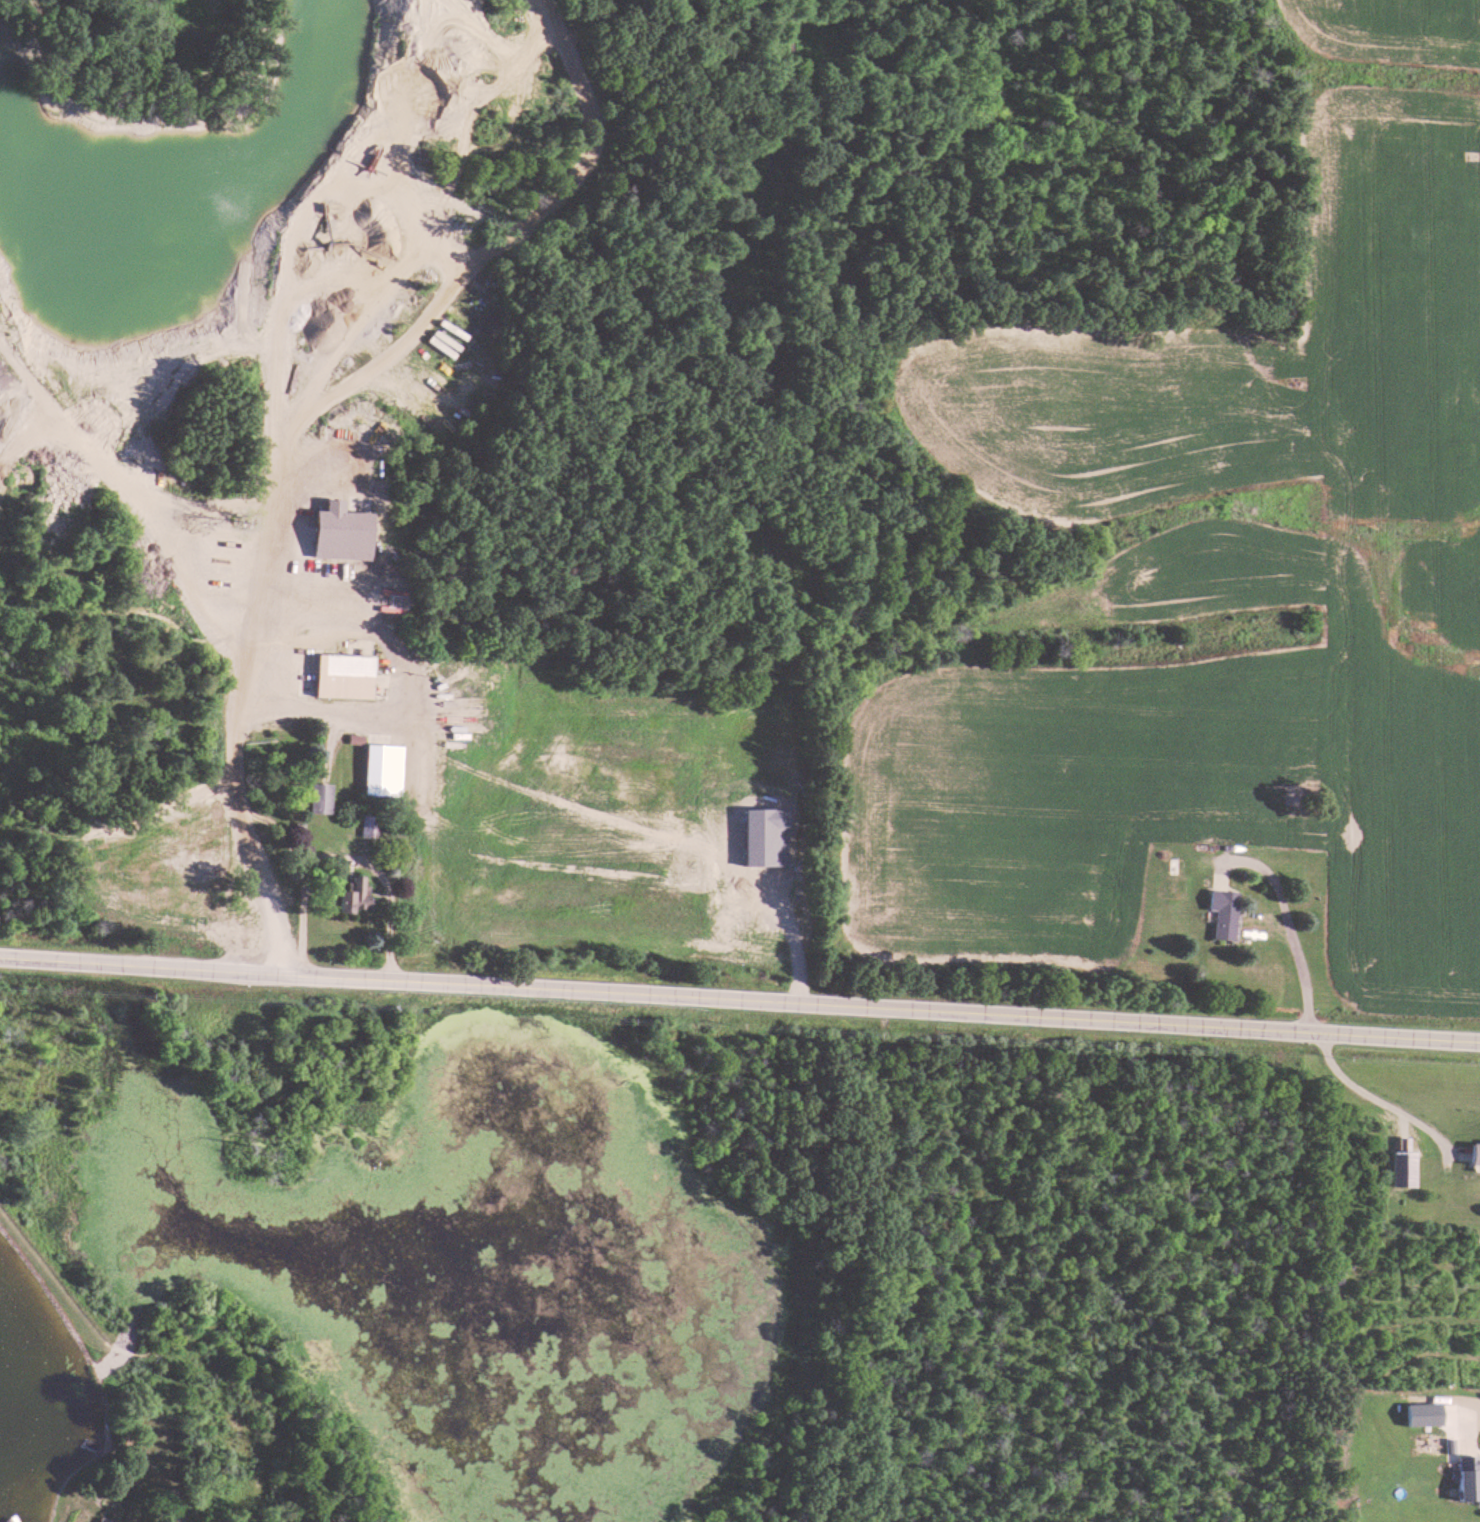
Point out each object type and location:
building: (381, 186)
road: (266, 395)
road: (120, 501)
building: (343, 676)
road: (337, 714)
building: (383, 771)
building: (319, 799)
building: (369, 827)
road: (344, 858)
building: (355, 896)
building: (1222, 915)
road: (1284, 918)
road: (740, 992)
road: (1388, 1101)
building: (1475, 1154)
road: (49, 1274)
road: (1473, 1420)
building: (1468, 1479)
building: (106, 1521)

